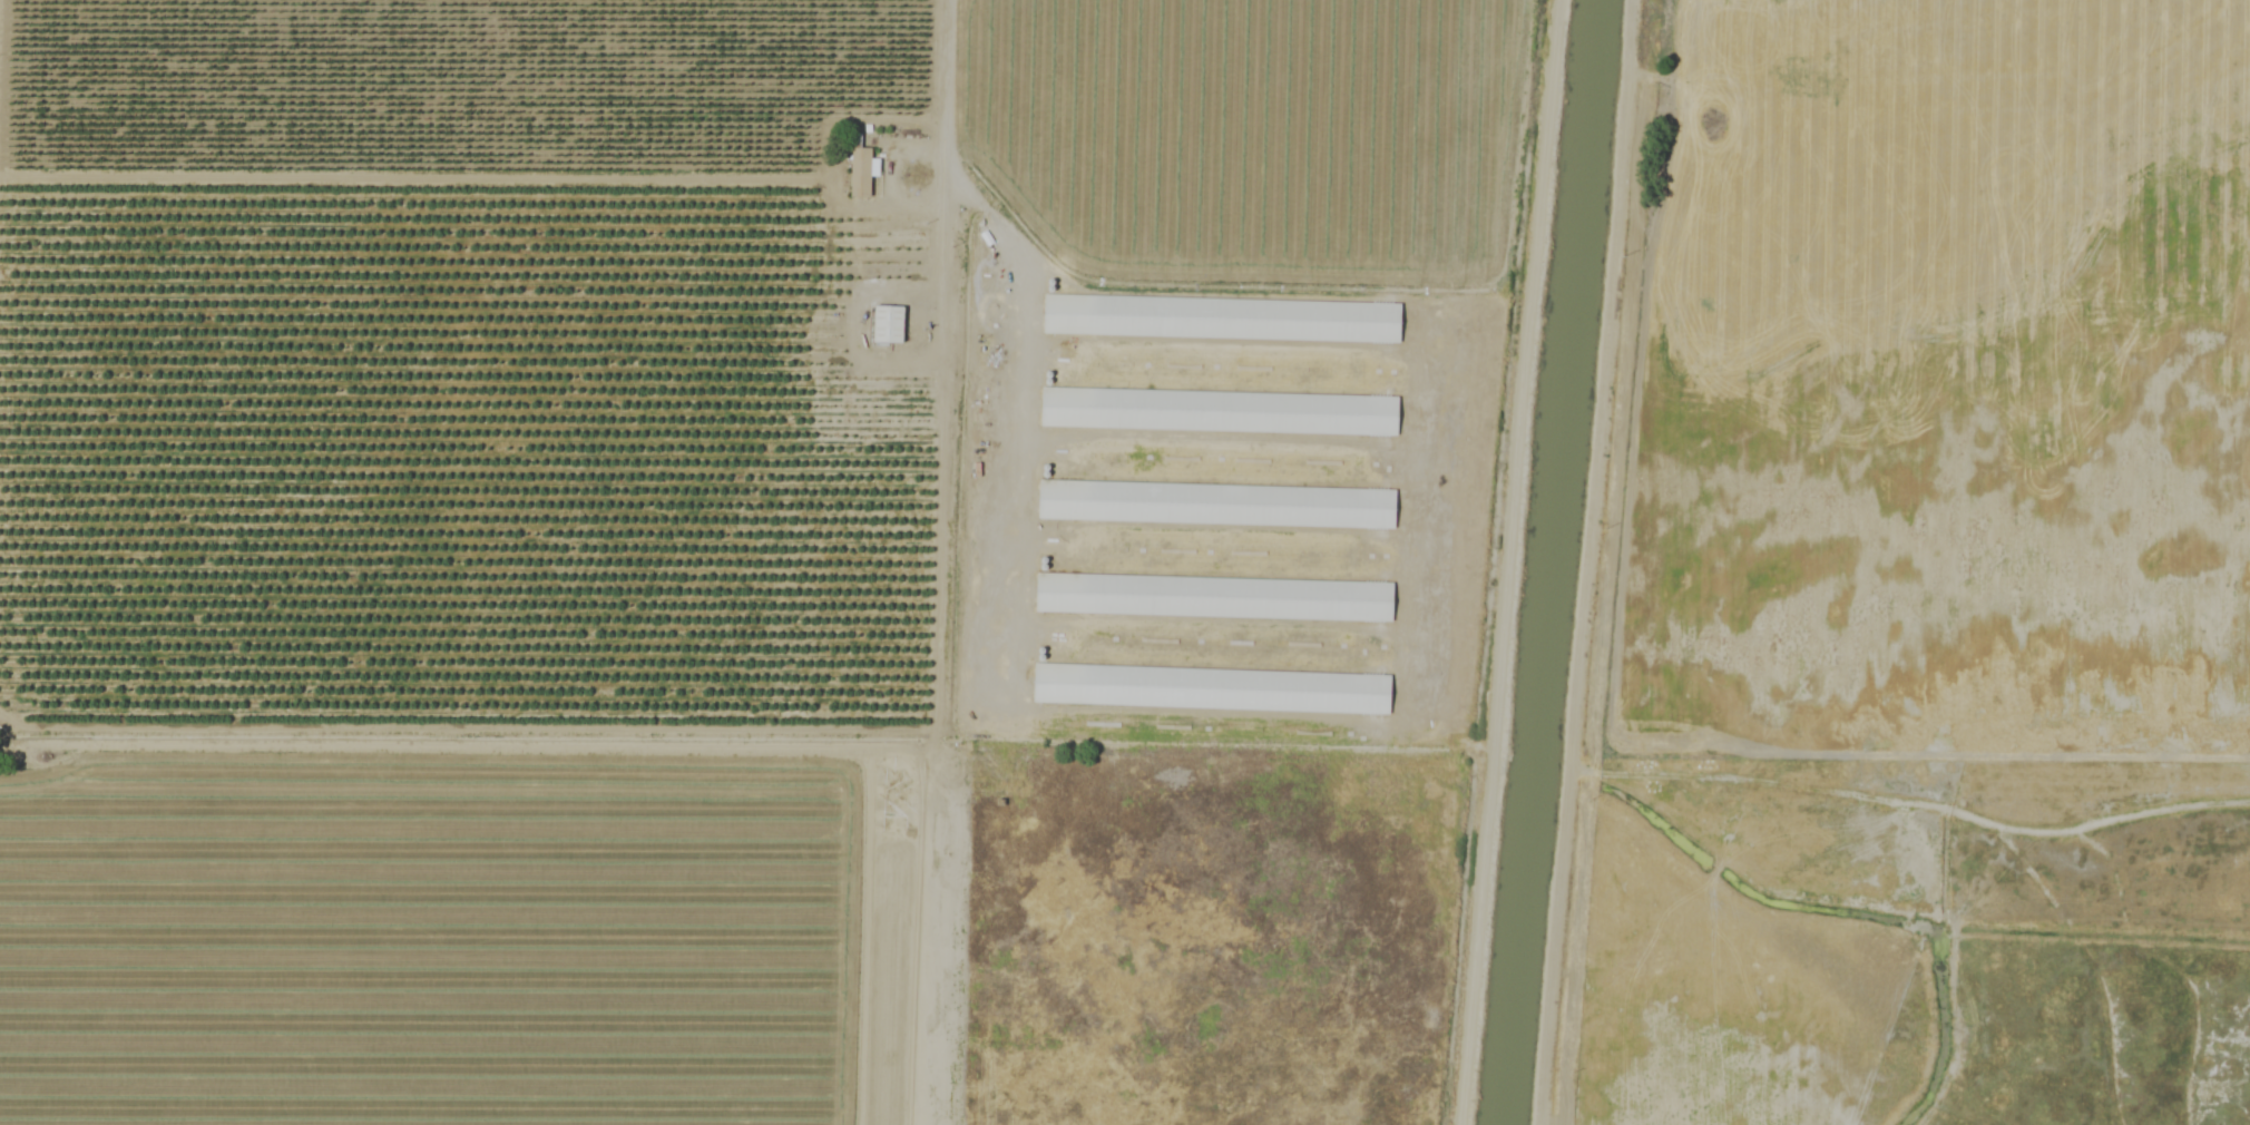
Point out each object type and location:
road: (946, 138)
building: (867, 170)
road: (1616, 260)
building: (1099, 314)
building: (893, 323)
road: (940, 354)
building: (1097, 408)
building: (1088, 500)
crop: (559, 517)
building: (1099, 595)

